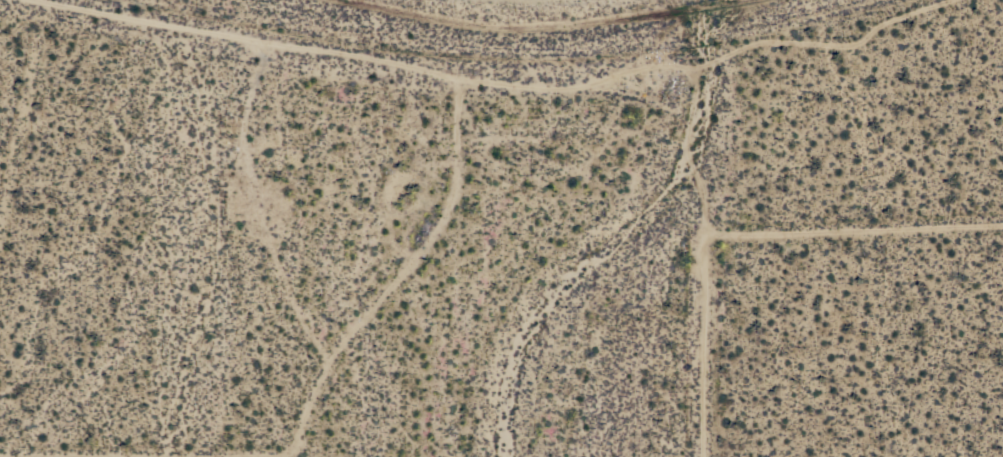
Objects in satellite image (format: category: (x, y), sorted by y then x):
road: (515, 79)
road: (853, 224)
road: (398, 274)
road: (704, 343)
road: (145, 449)

